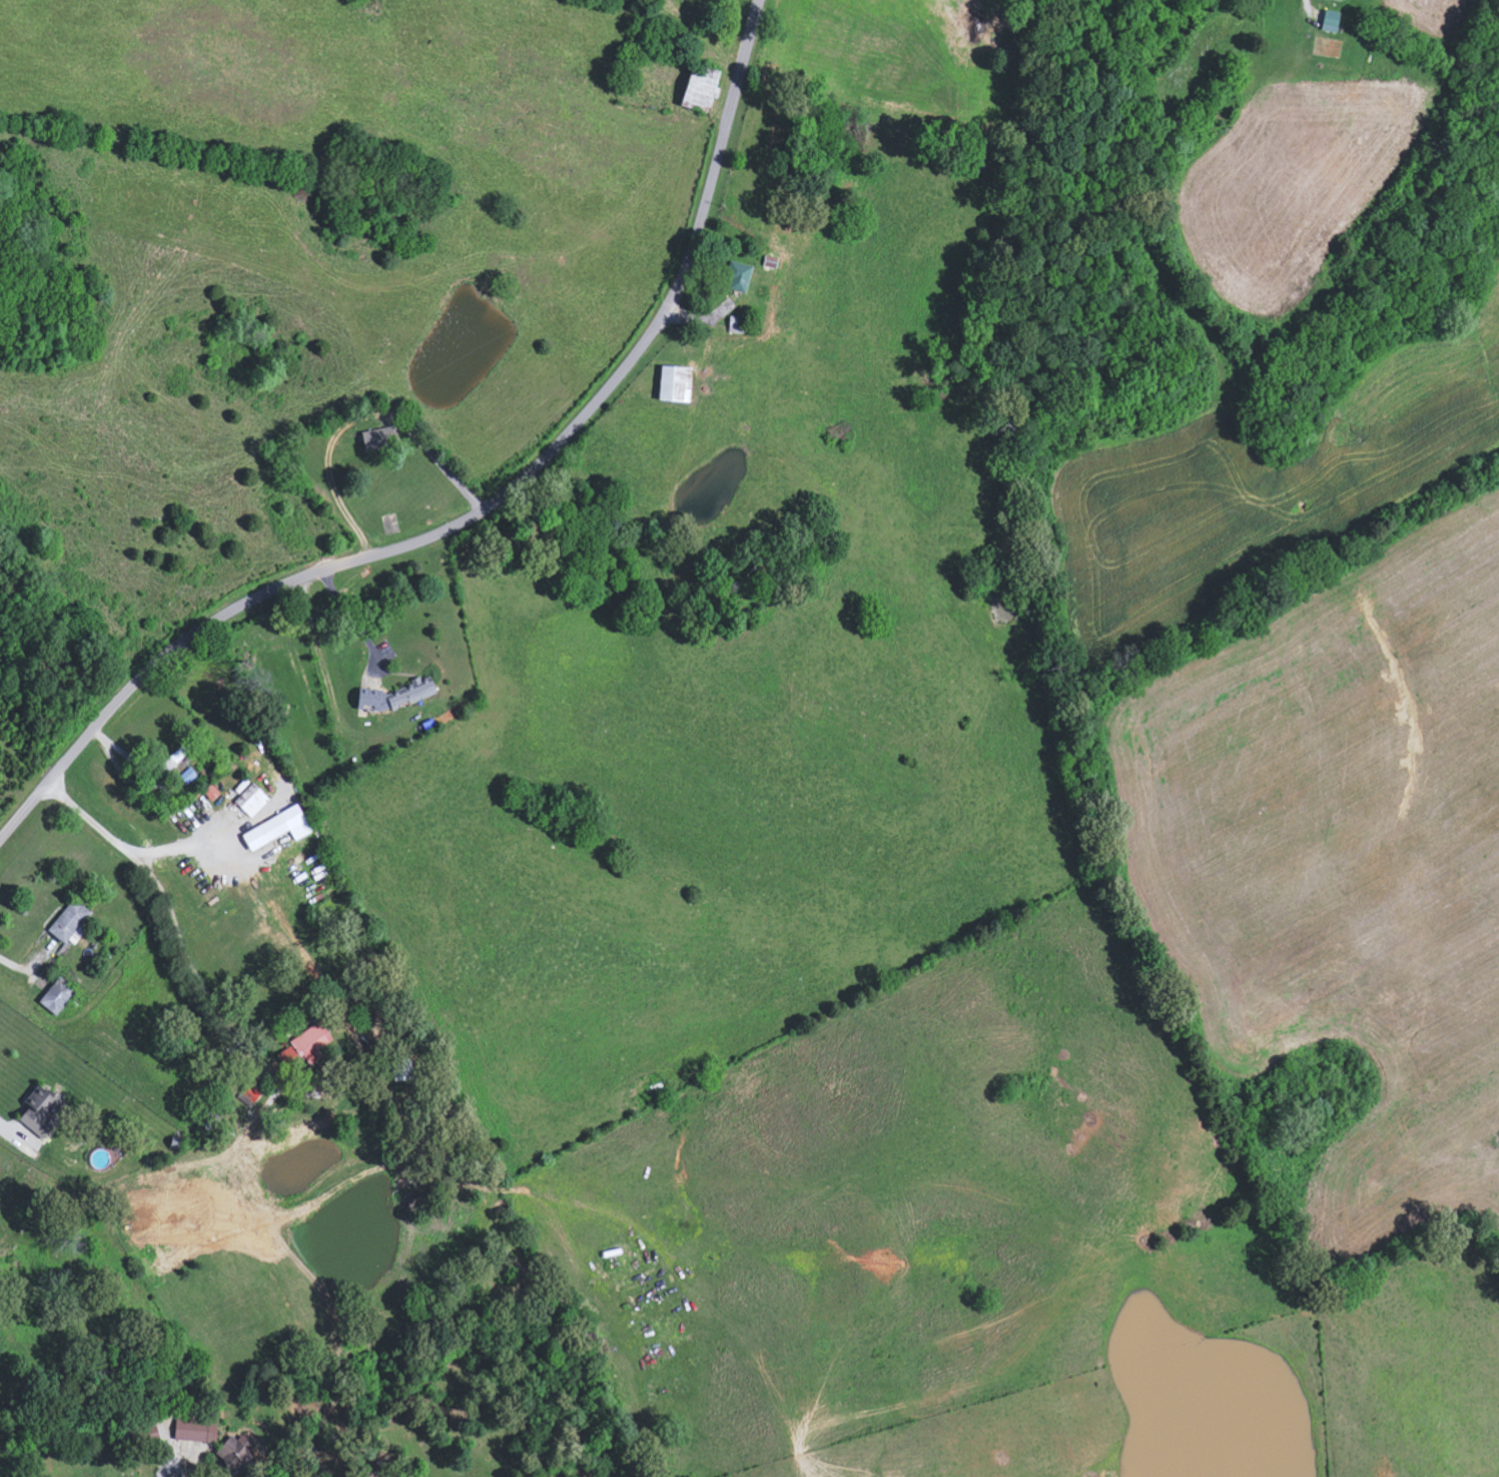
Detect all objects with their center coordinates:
road: (1306, 12)
building: (1333, 20)
building: (1011, 41)
building: (706, 87)
building: (741, 275)
building: (678, 383)
building: (380, 437)
road: (479, 510)
building: (413, 692)
building: (372, 697)
building: (174, 760)
building: (213, 792)
building: (254, 800)
building: (268, 832)
road: (122, 854)
building: (72, 923)
road: (9, 970)
building: (60, 996)
building: (308, 1046)
building: (42, 1109)
road: (4, 1137)
building: (199, 1430)
building: (239, 1451)

